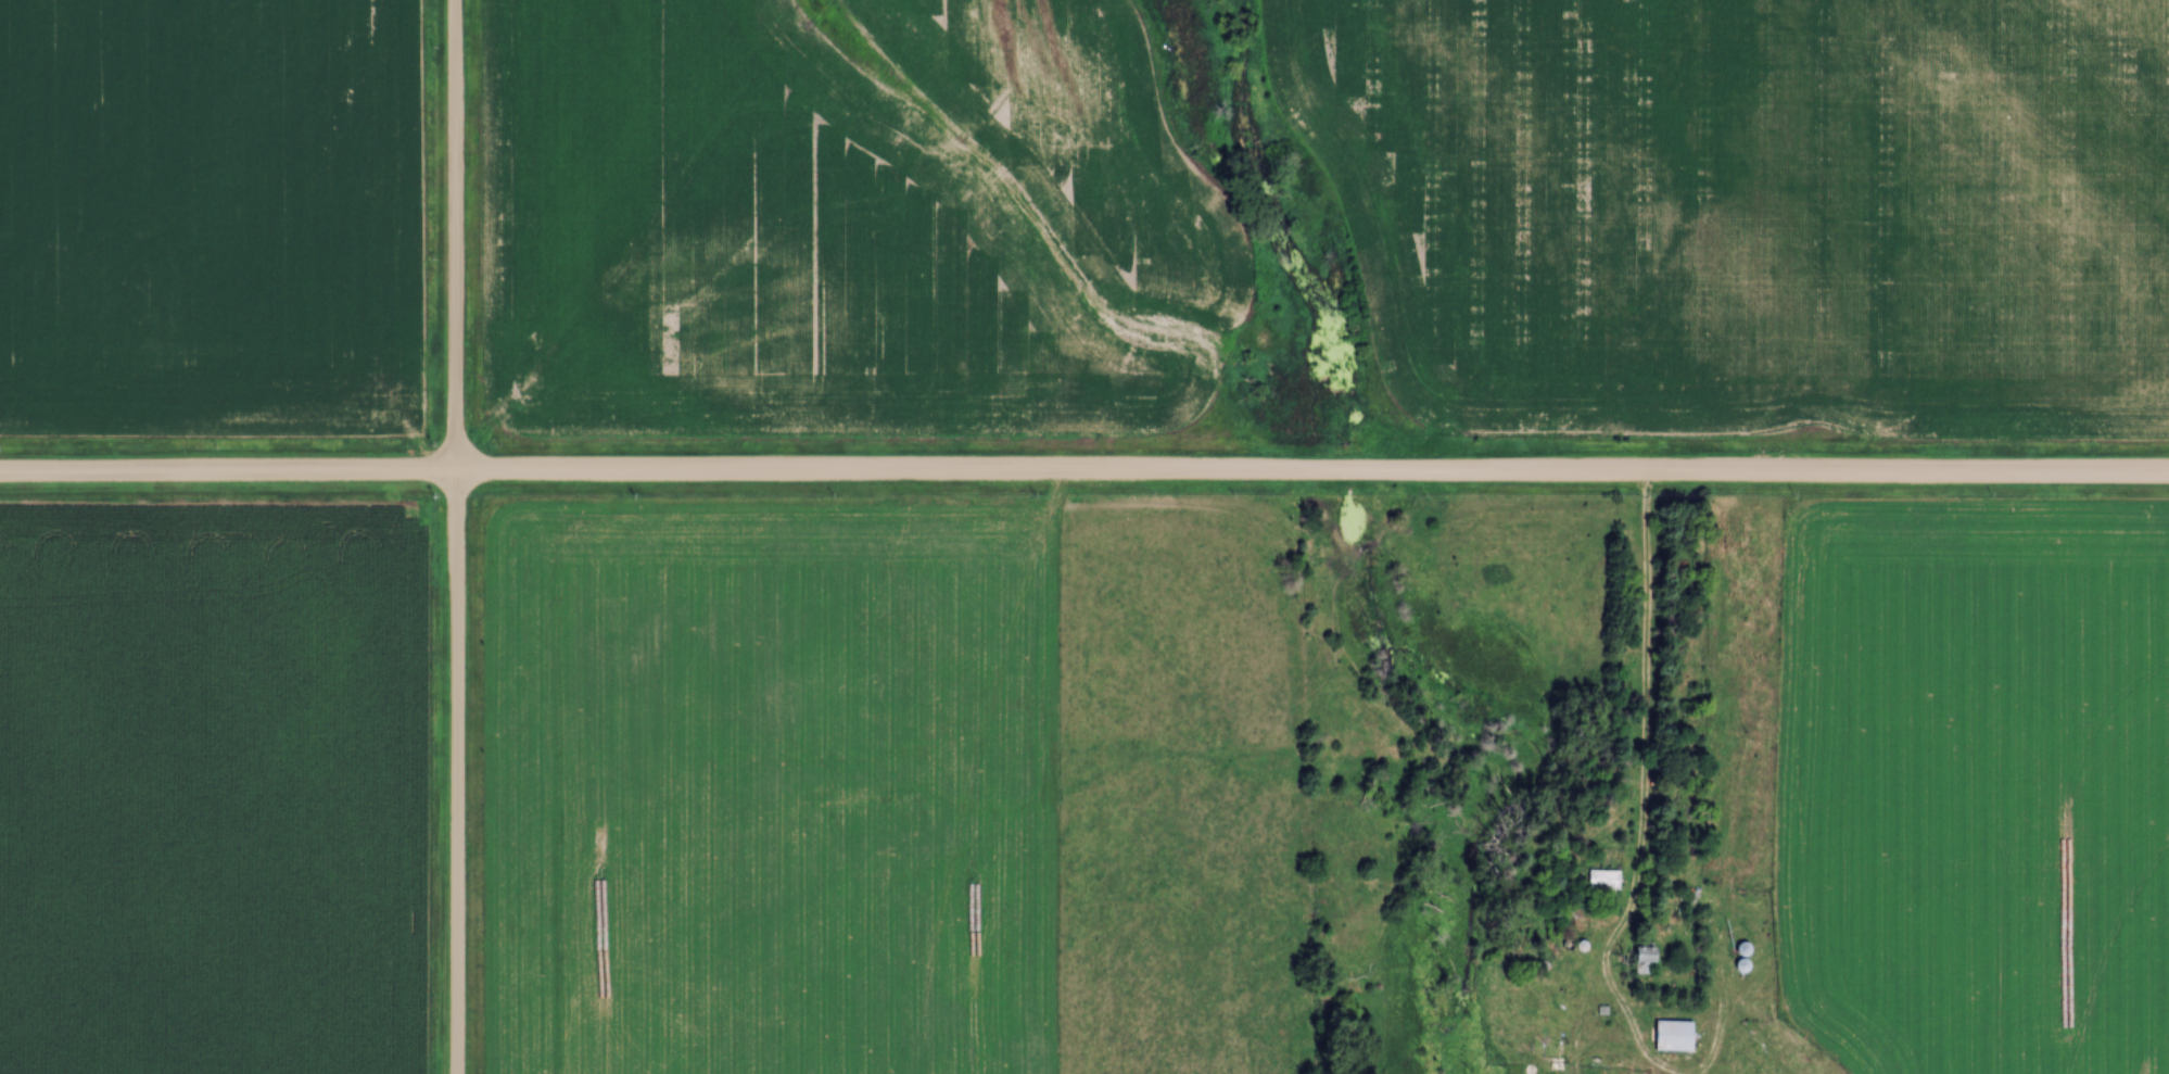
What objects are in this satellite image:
road: (1083, 477)
road: (456, 536)
road: (1645, 708)
building: (1613, 883)
building: (1677, 1036)

